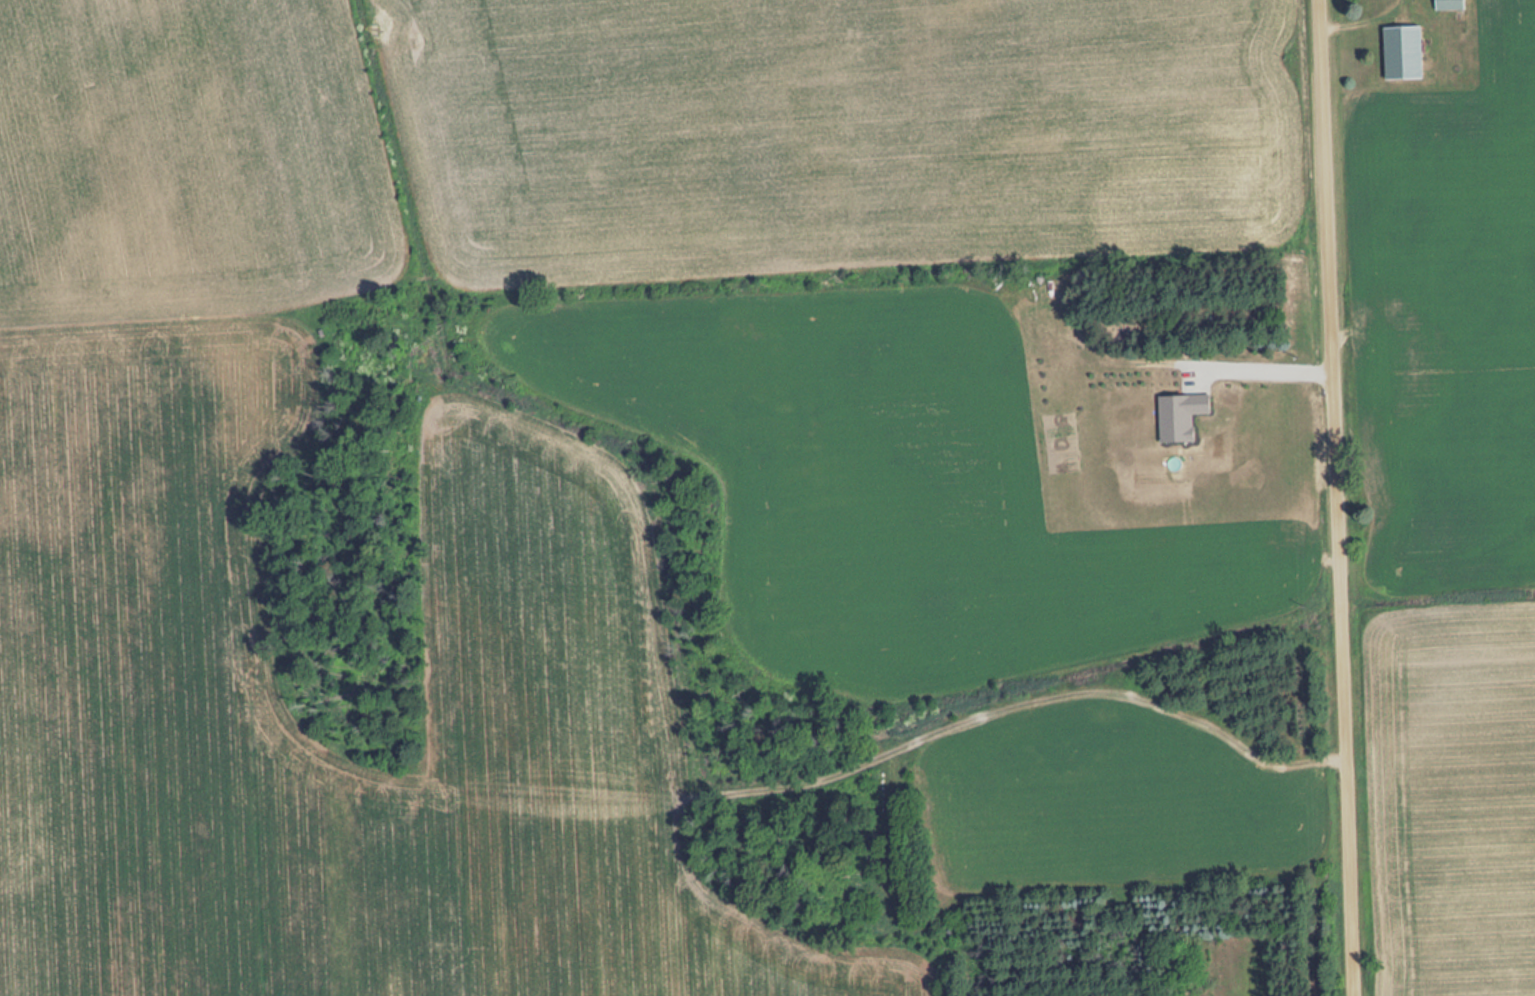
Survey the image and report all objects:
building: (1454, 4)
building: (1408, 52)
road: (1331, 497)

